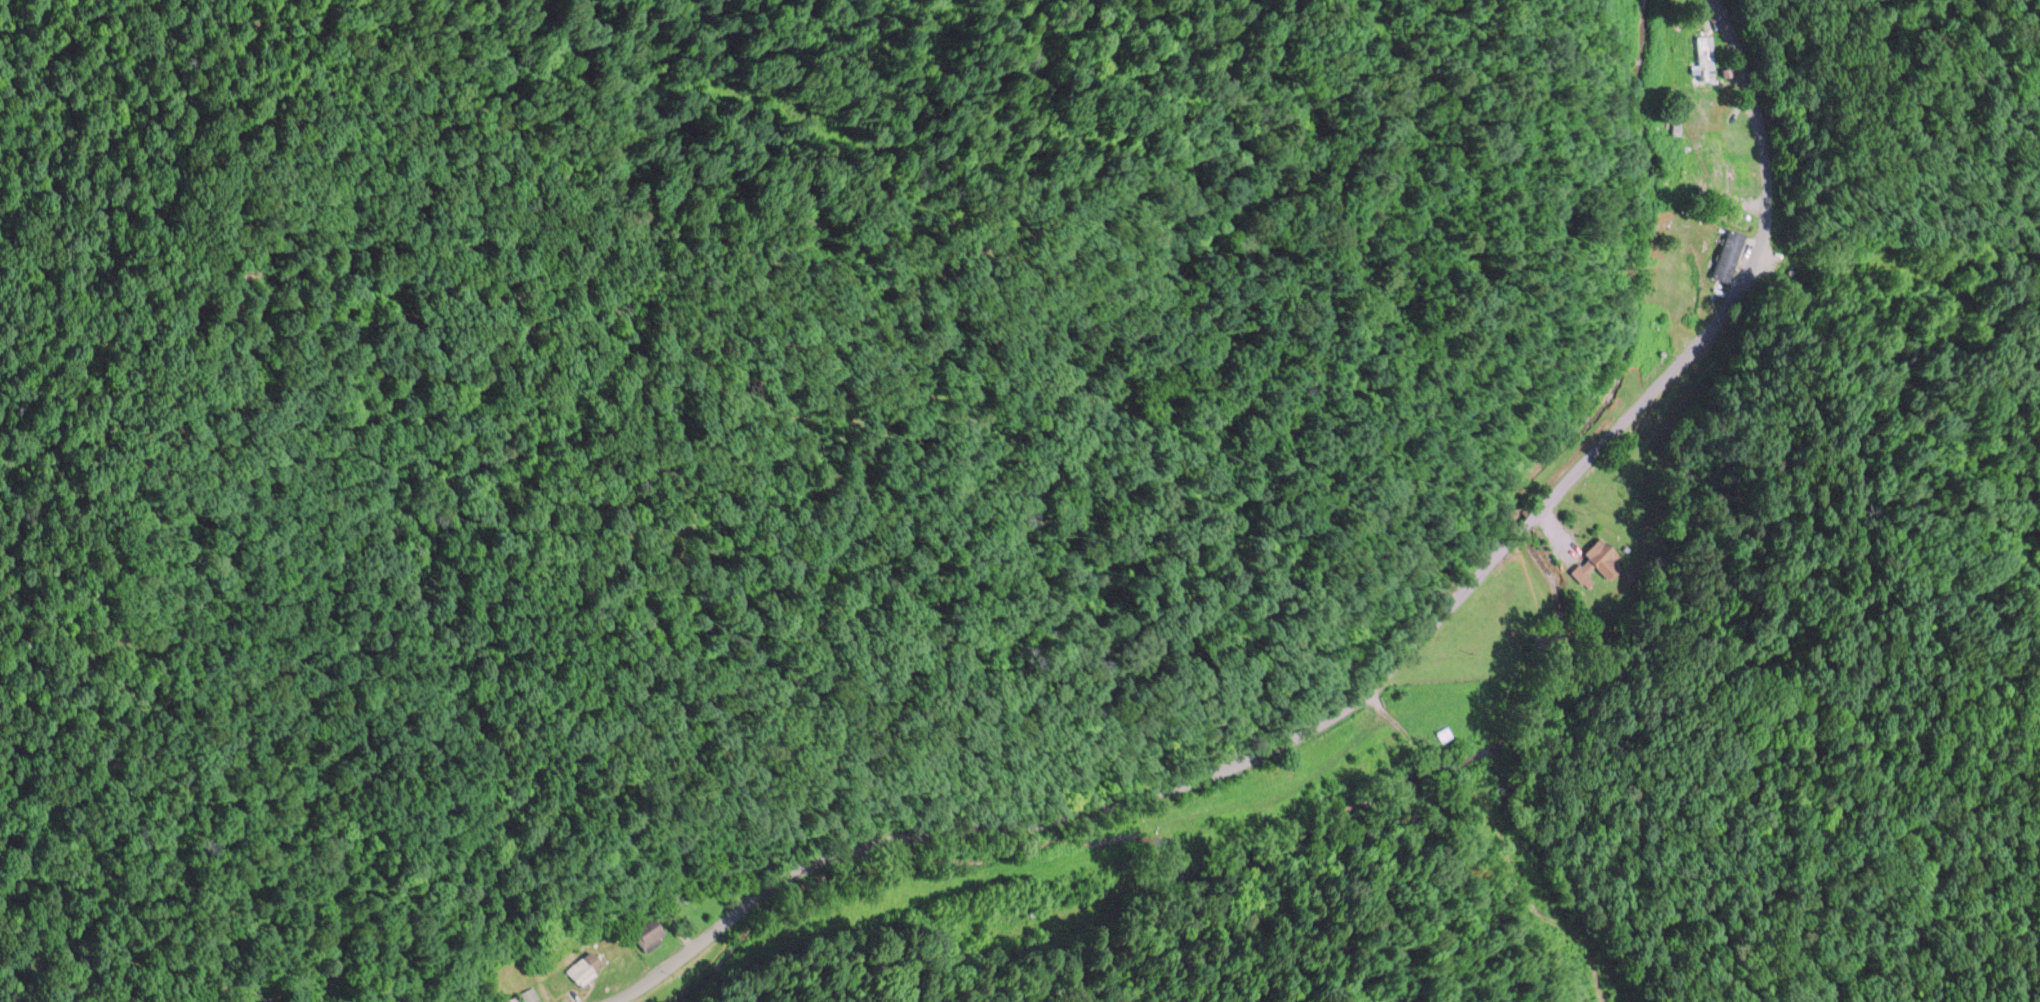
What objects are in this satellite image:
building: (1705, 57)
building: (1699, 113)
building: (1717, 166)
building: (1726, 254)
building: (1597, 560)
road: (1374, 685)
building: (1442, 732)
road: (1464, 851)
building: (650, 931)
building: (586, 967)
building: (523, 996)

